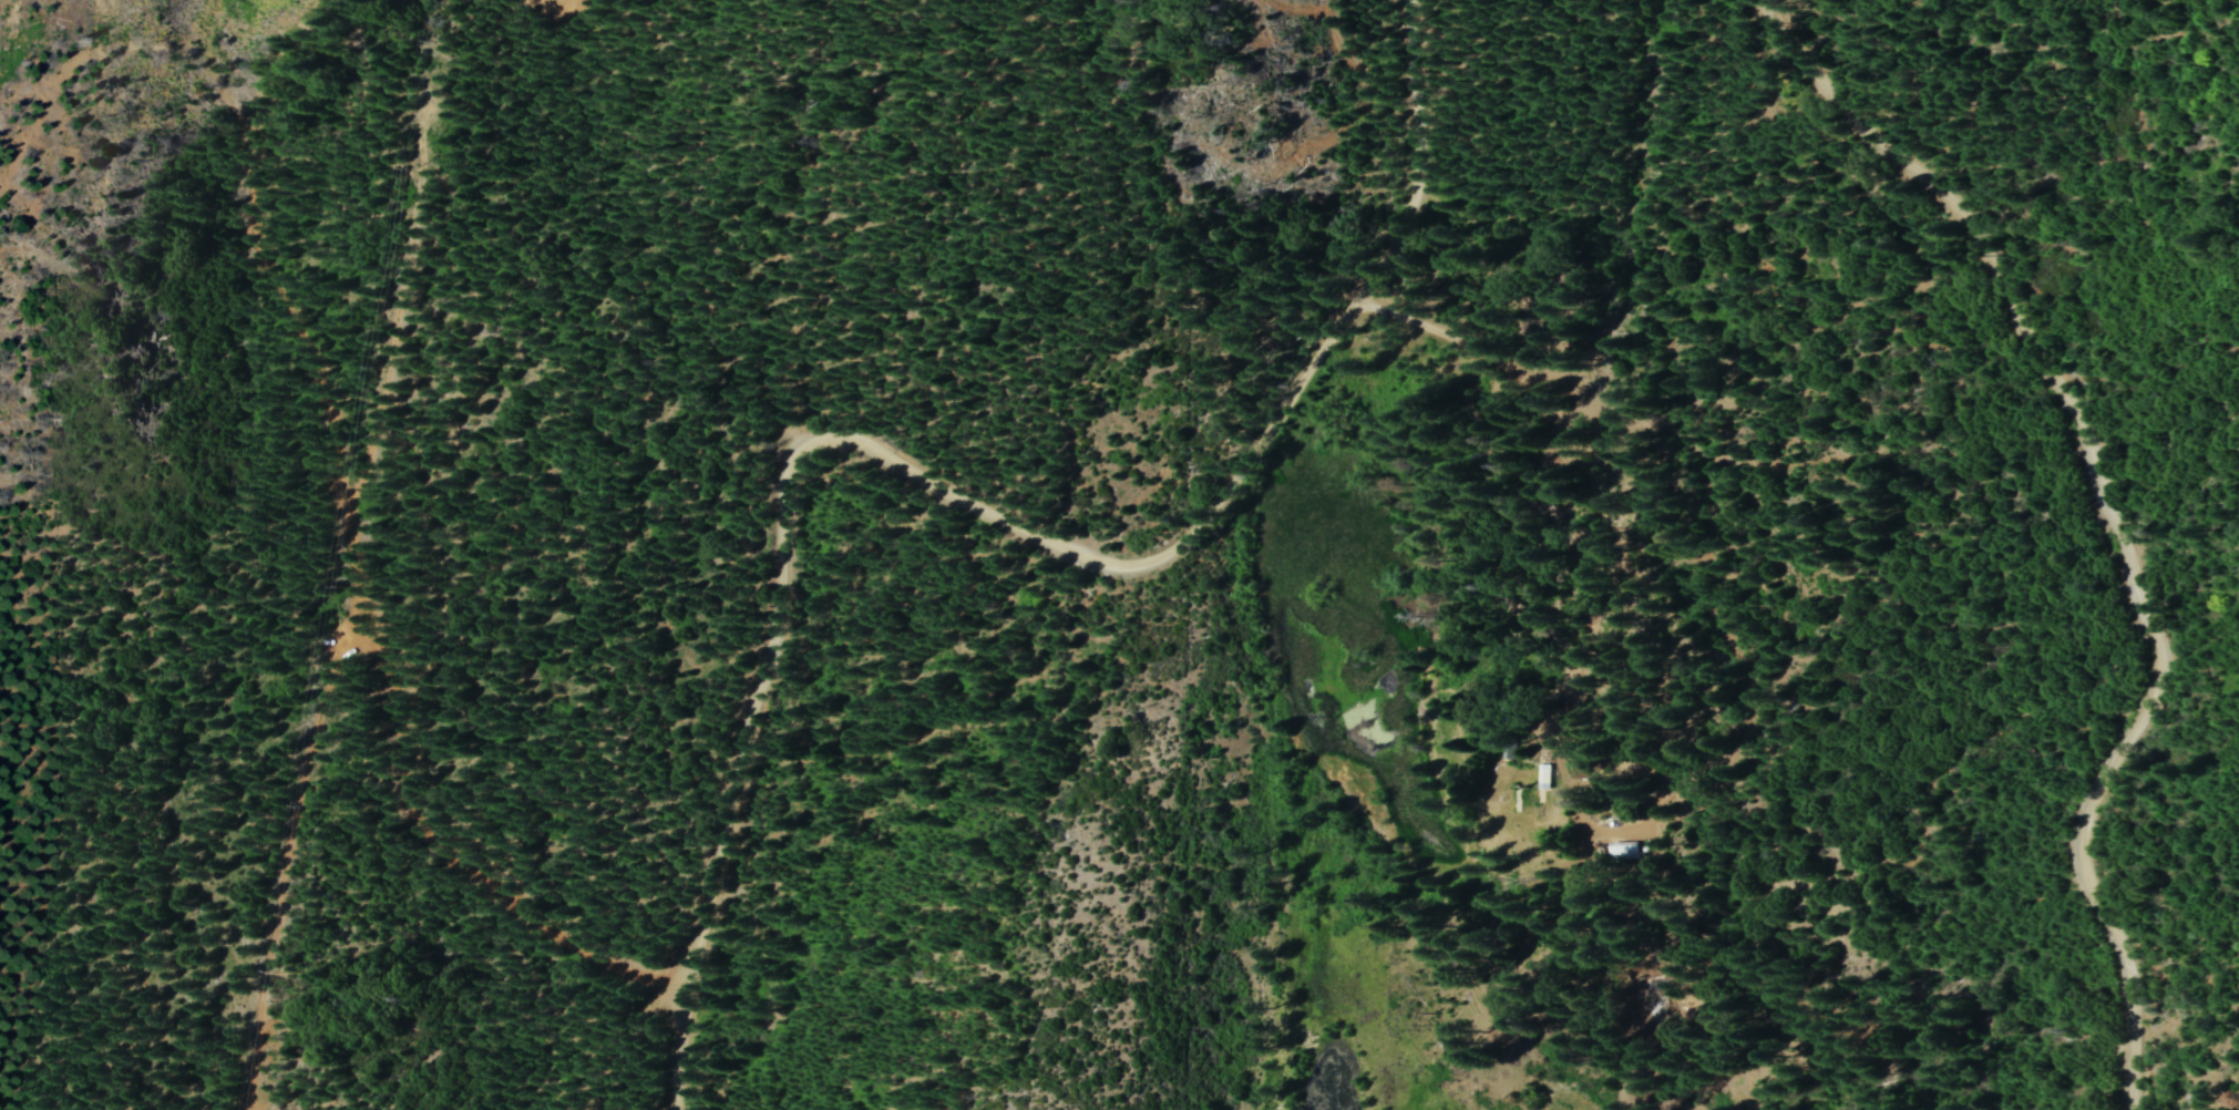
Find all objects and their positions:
road: (964, 504)
road: (2094, 515)
building: (1651, 997)

